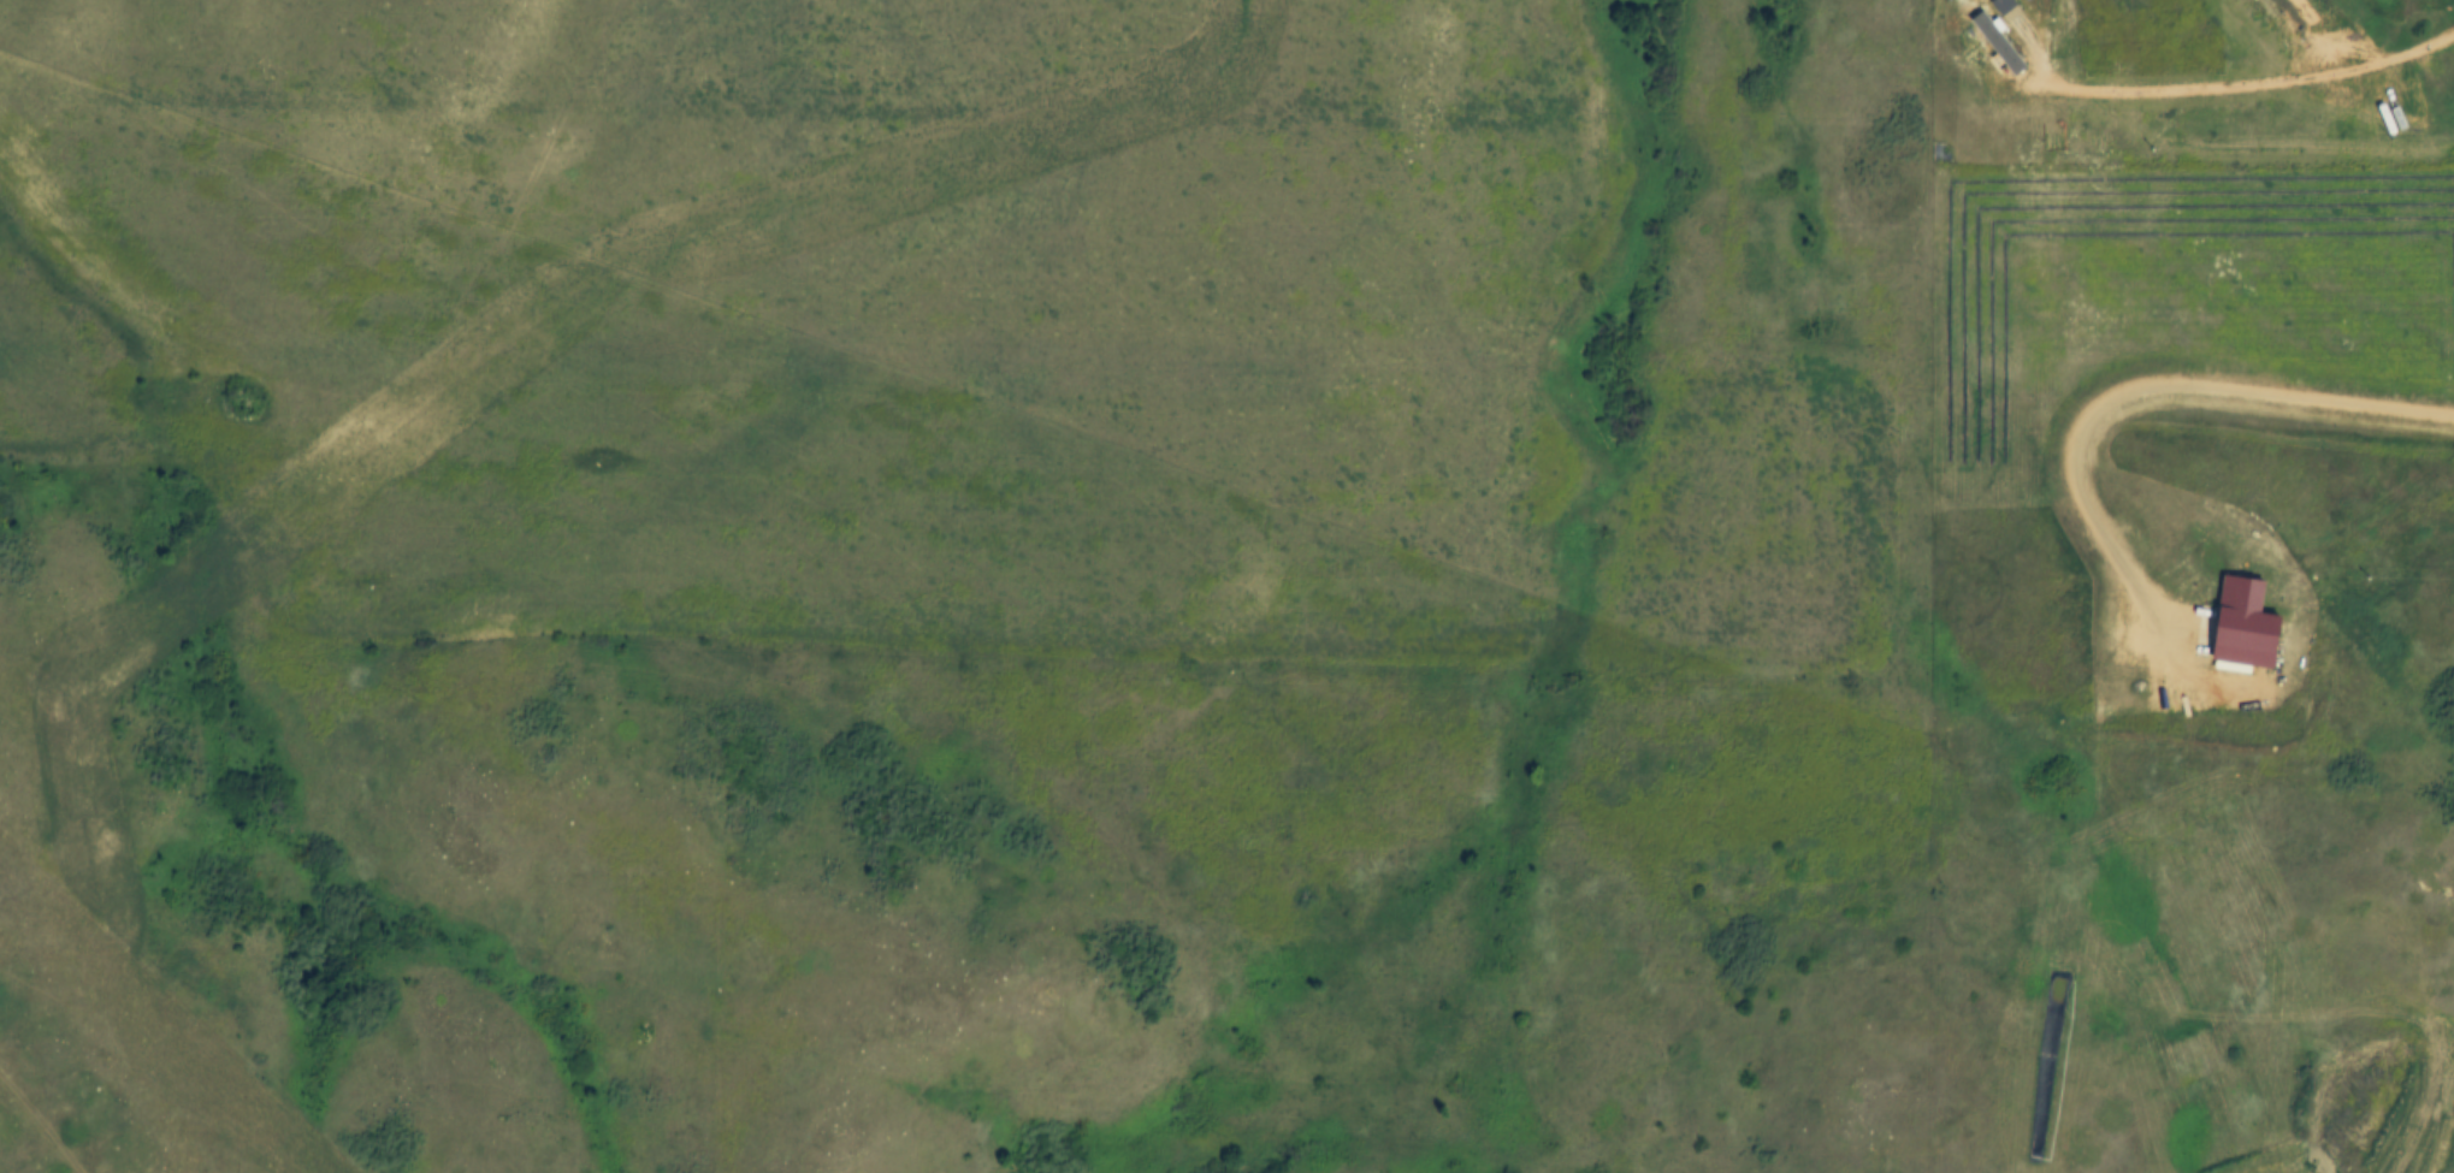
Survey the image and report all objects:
road: (42, 1122)

